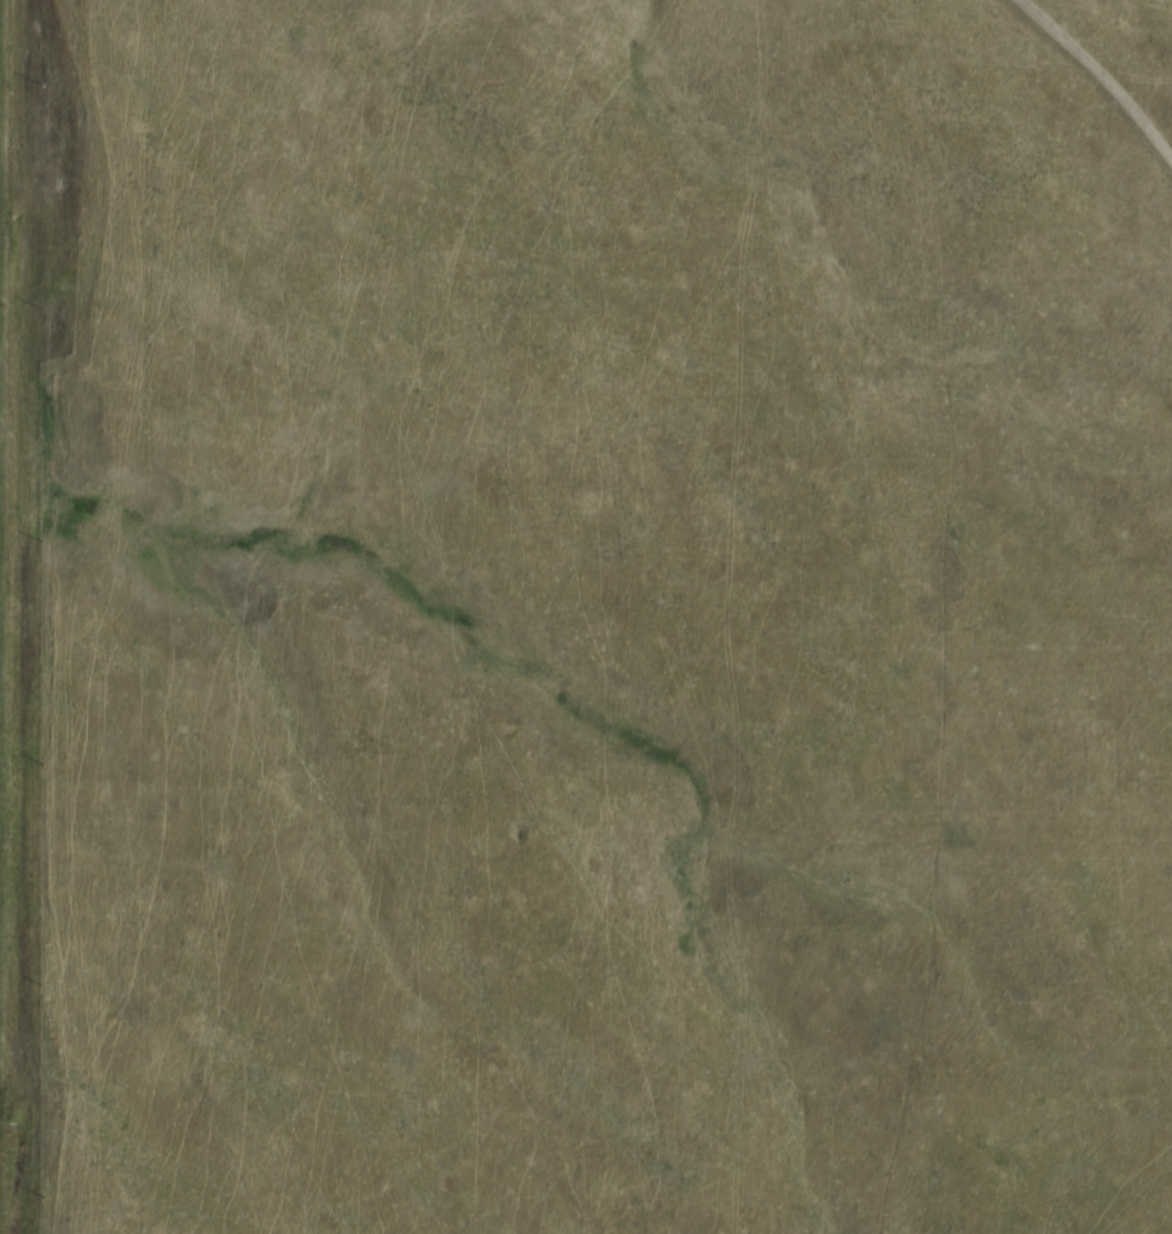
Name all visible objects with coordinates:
road: (1089, 79)

